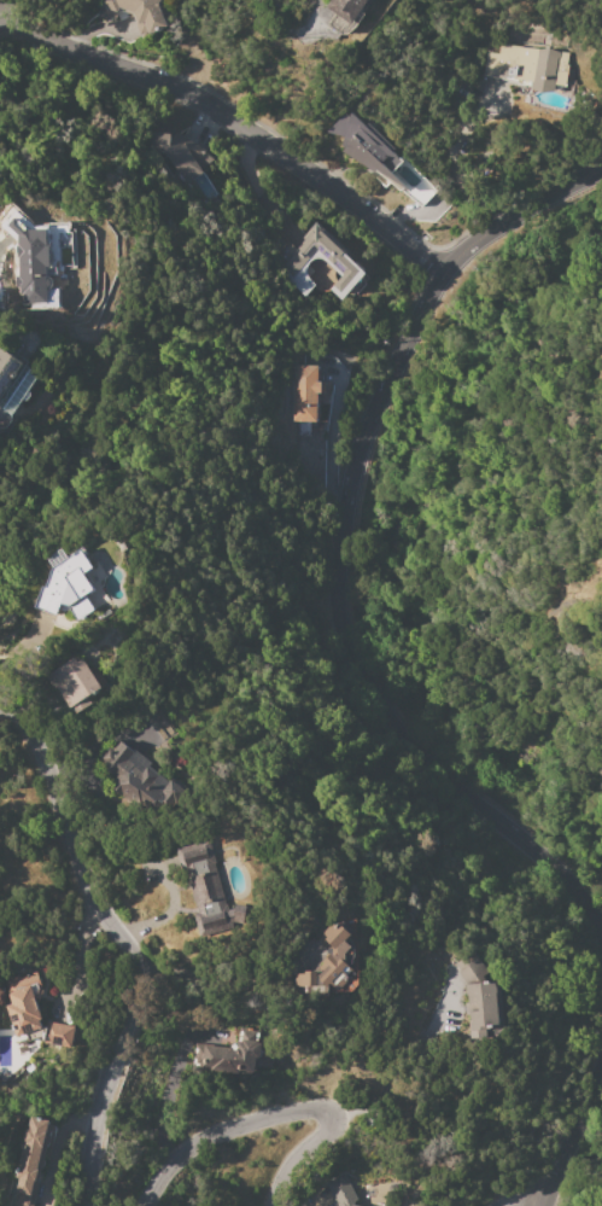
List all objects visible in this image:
building: (135, 13)
building: (346, 14)
building: (527, 66)
road: (234, 123)
building: (175, 151)
building: (380, 158)
building: (24, 260)
building: (339, 261)
building: (8, 367)
building: (305, 392)
road: (328, 439)
road: (338, 548)
building: (66, 585)
building: (74, 682)
building: (136, 780)
building: (206, 889)
road: (129, 948)
building: (331, 963)
building: (480, 998)
building: (31, 1013)
building: (230, 1054)
road: (396, 1065)
road: (277, 1114)
road: (573, 1143)
building: (31, 1160)
building: (340, 1192)

